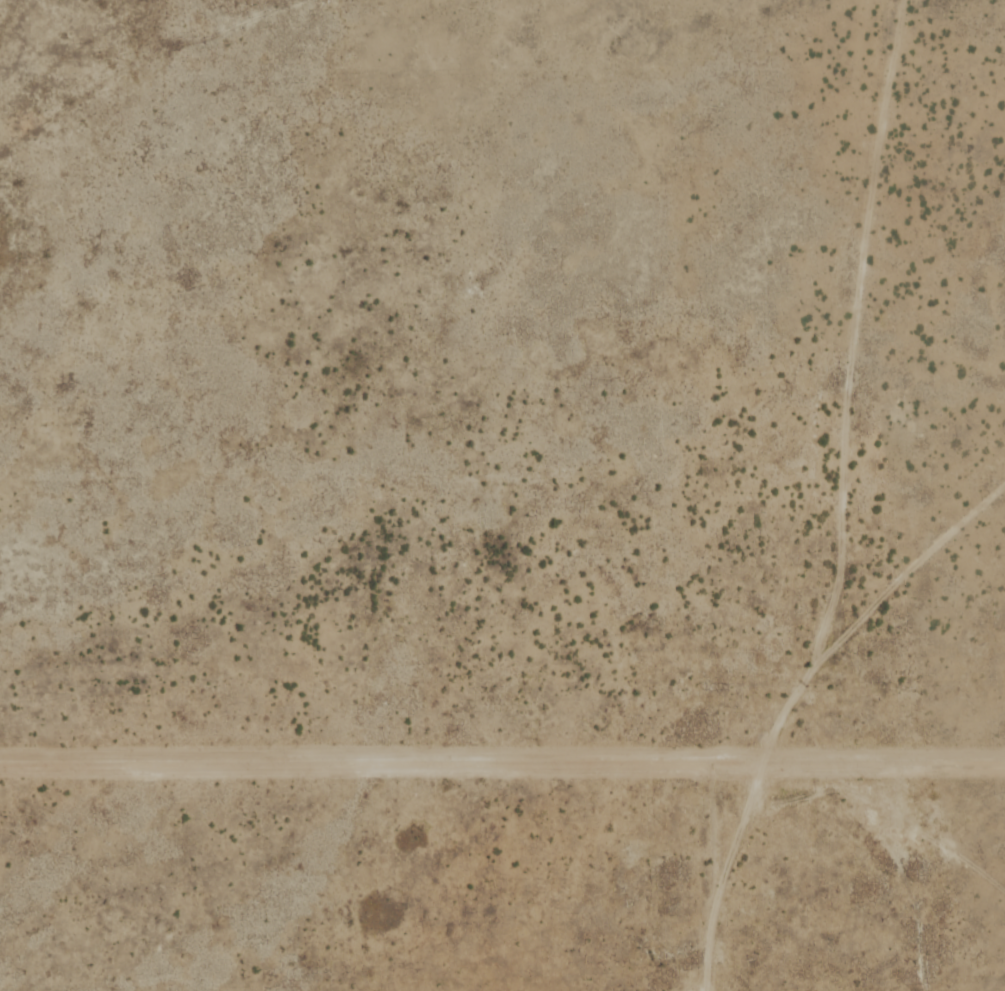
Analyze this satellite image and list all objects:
road: (786, 690)
road: (902, 913)

